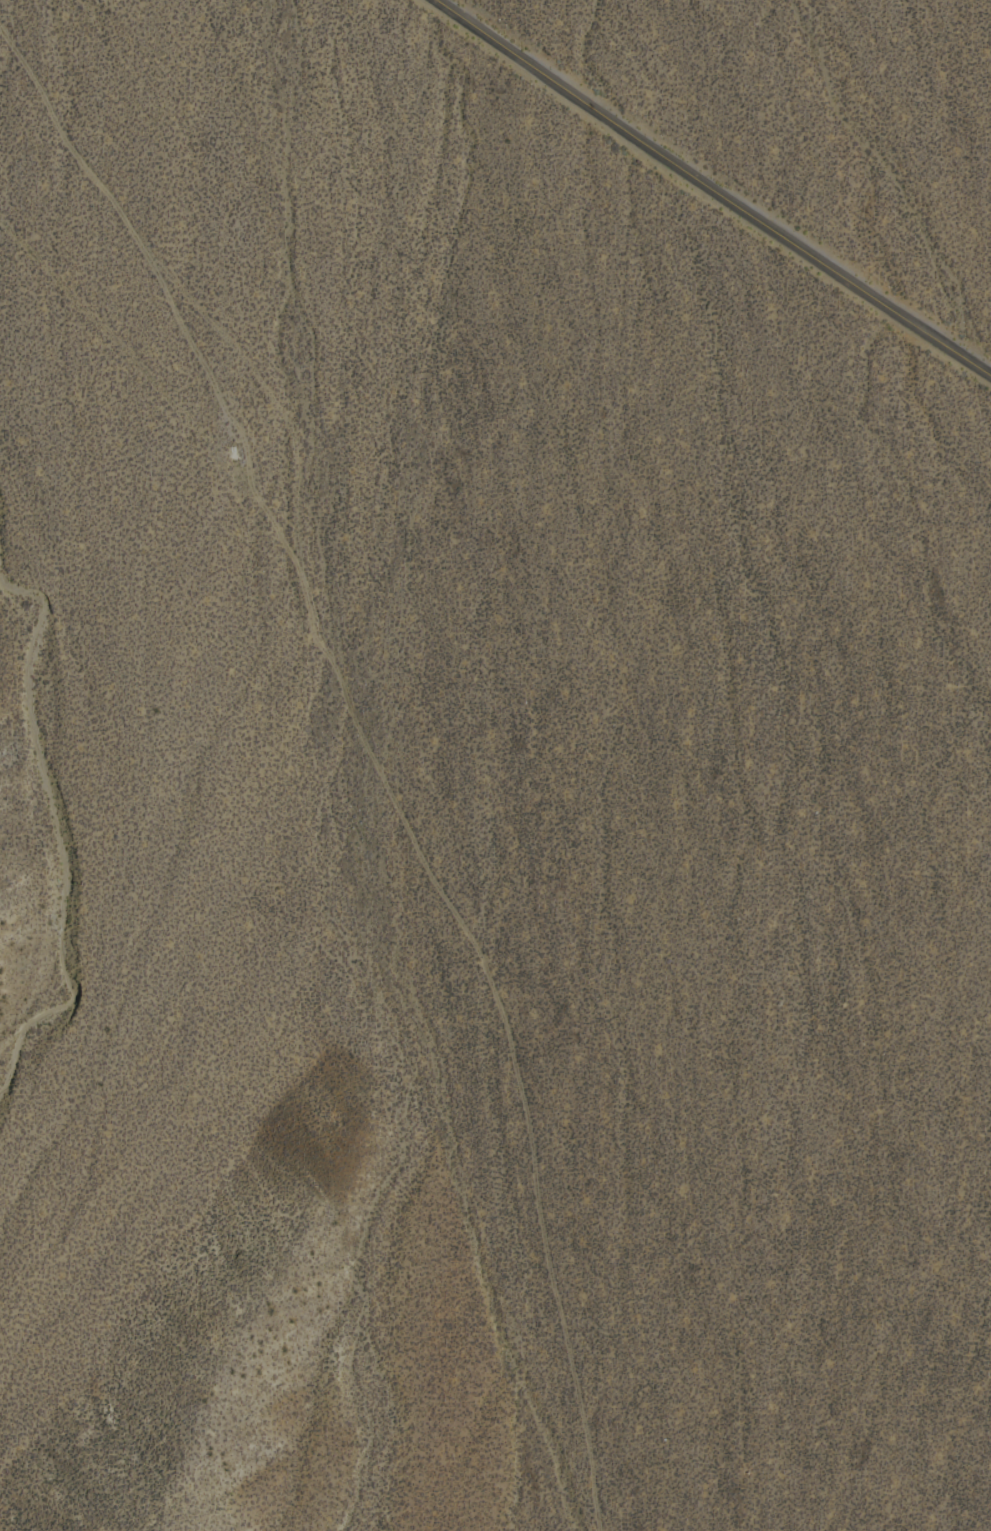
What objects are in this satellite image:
road: (714, 185)
road: (368, 745)

